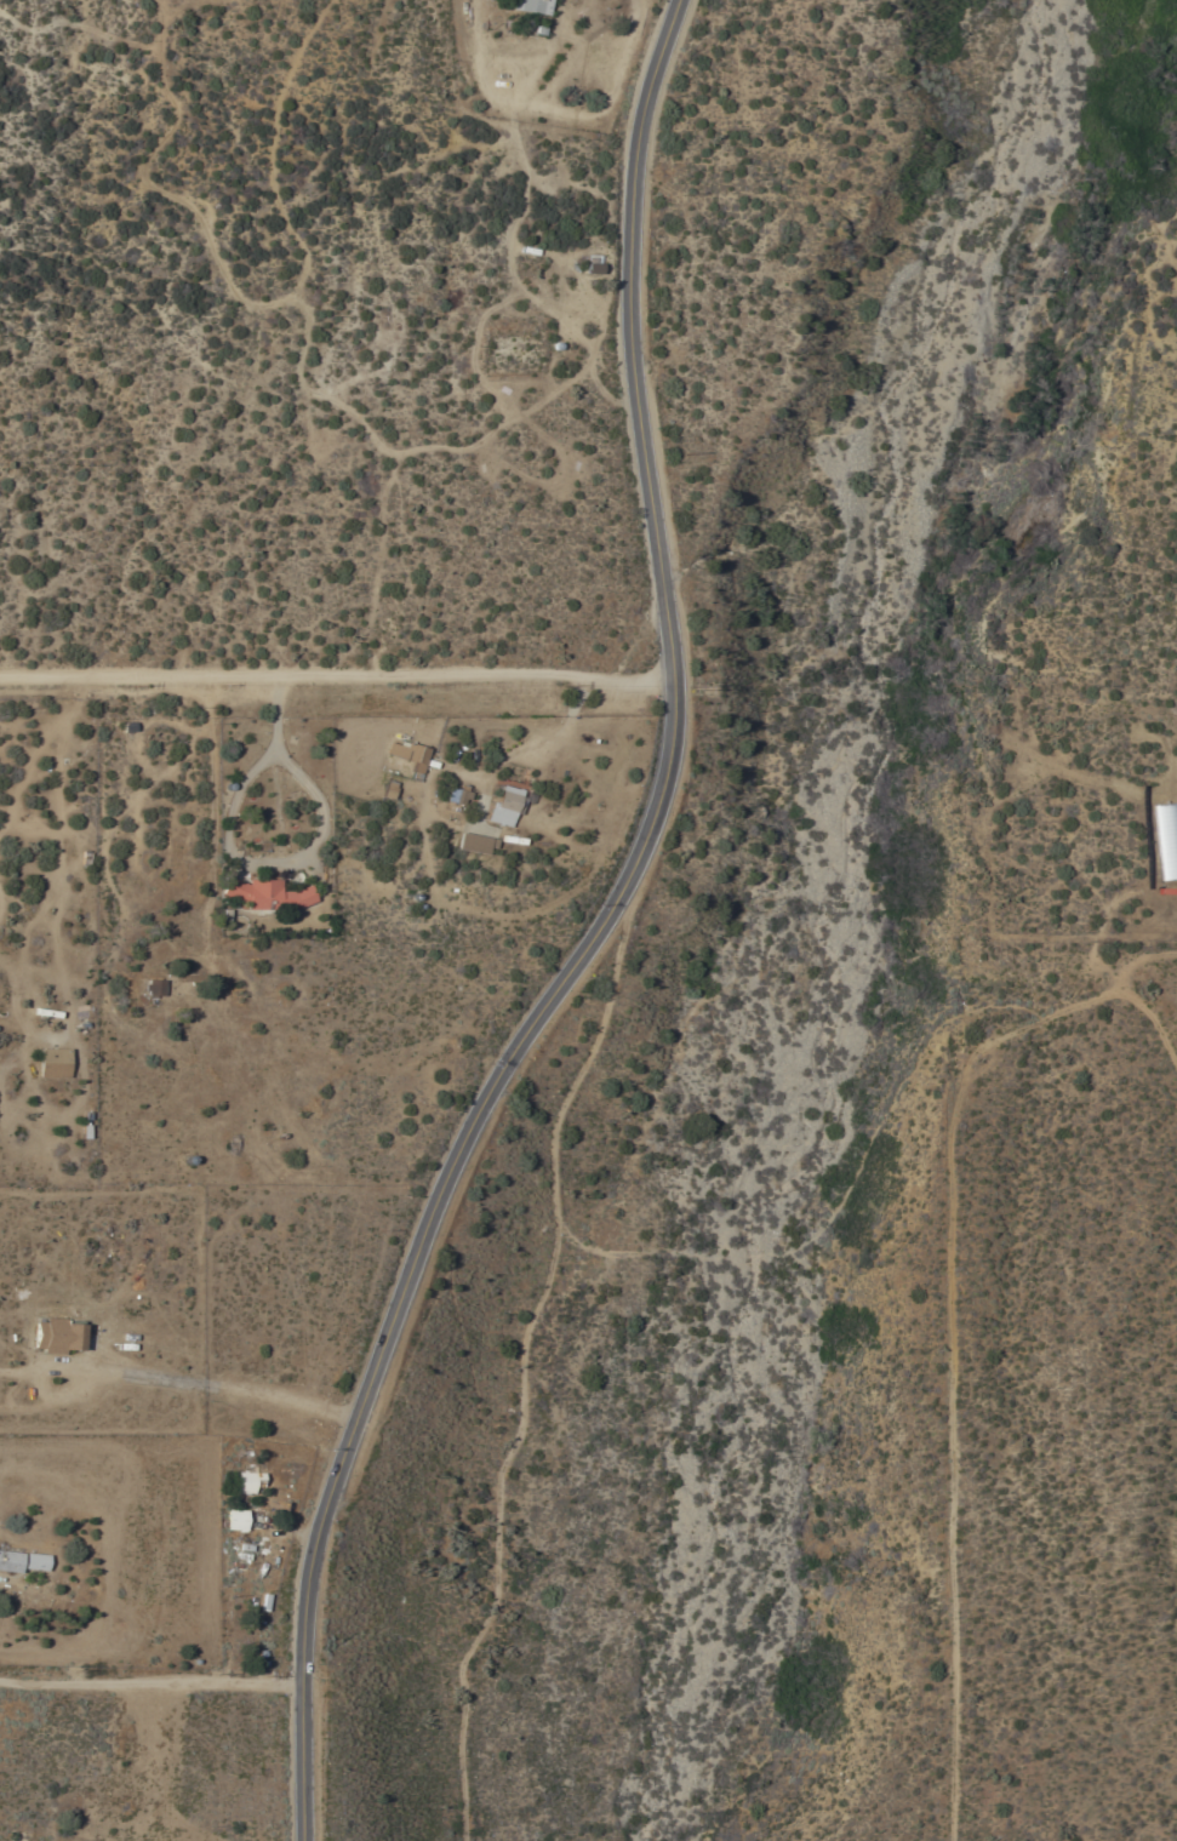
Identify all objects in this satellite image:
building: (531, 6)
building: (592, 264)
road: (336, 679)
road: (526, 749)
building: (408, 754)
road: (1172, 788)
building: (388, 789)
building: (457, 794)
building: (507, 806)
building: (475, 842)
road: (236, 856)
building: (267, 893)
road: (1107, 916)
road: (592, 939)
building: (153, 989)
road: (1153, 1022)
road: (127, 1027)
building: (52, 1063)
road: (950, 1330)
building: (57, 1334)
road: (137, 1376)
road: (286, 1400)
building: (247, 1481)
building: (235, 1519)
building: (10, 1560)
building: (34, 1561)
road: (150, 1681)

